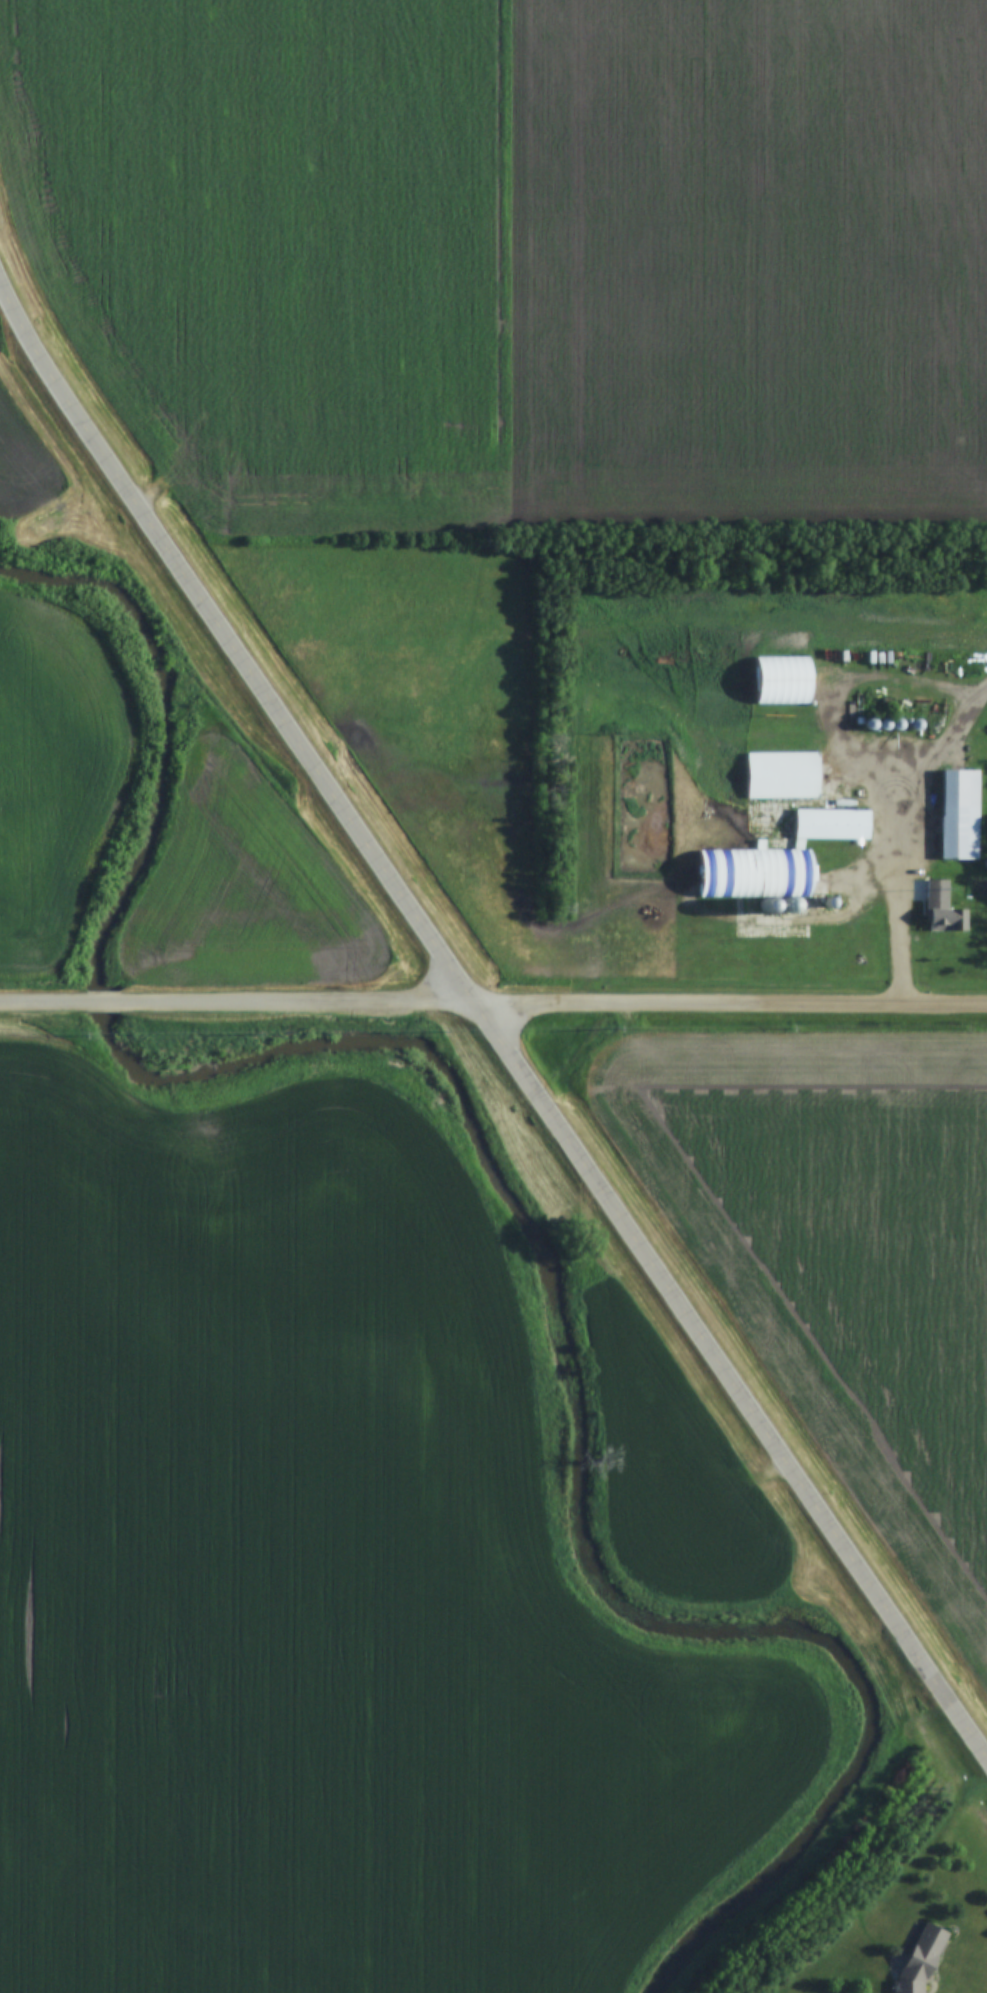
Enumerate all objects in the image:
road: (233, 644)
building: (800, 691)
building: (784, 776)
building: (960, 815)
building: (834, 824)
building: (703, 862)
building: (943, 910)
road: (908, 913)
road: (43, 1001)
road: (102, 1001)
road: (298, 1006)
road: (733, 1007)
road: (735, 1378)
building: (922, 1960)

